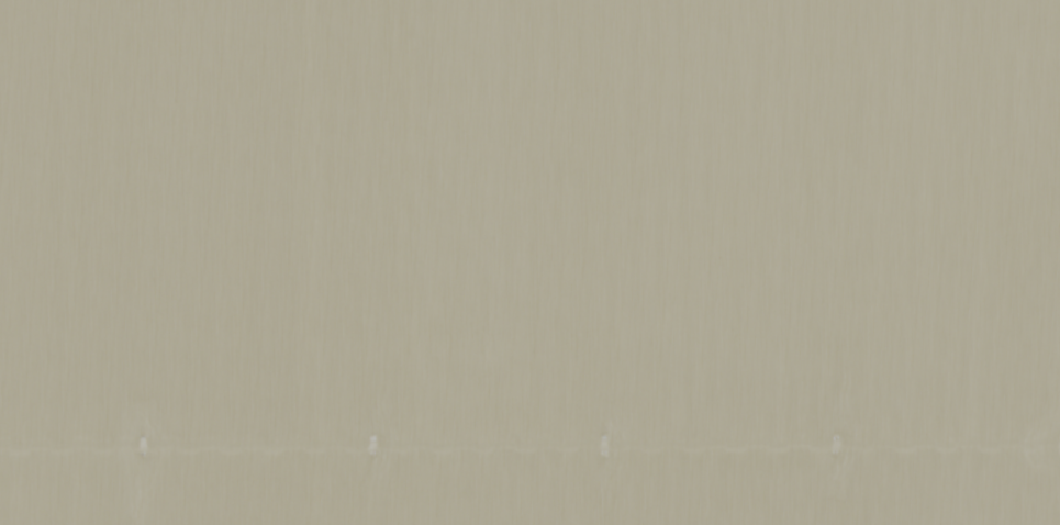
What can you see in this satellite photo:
crop: (529, 262)

